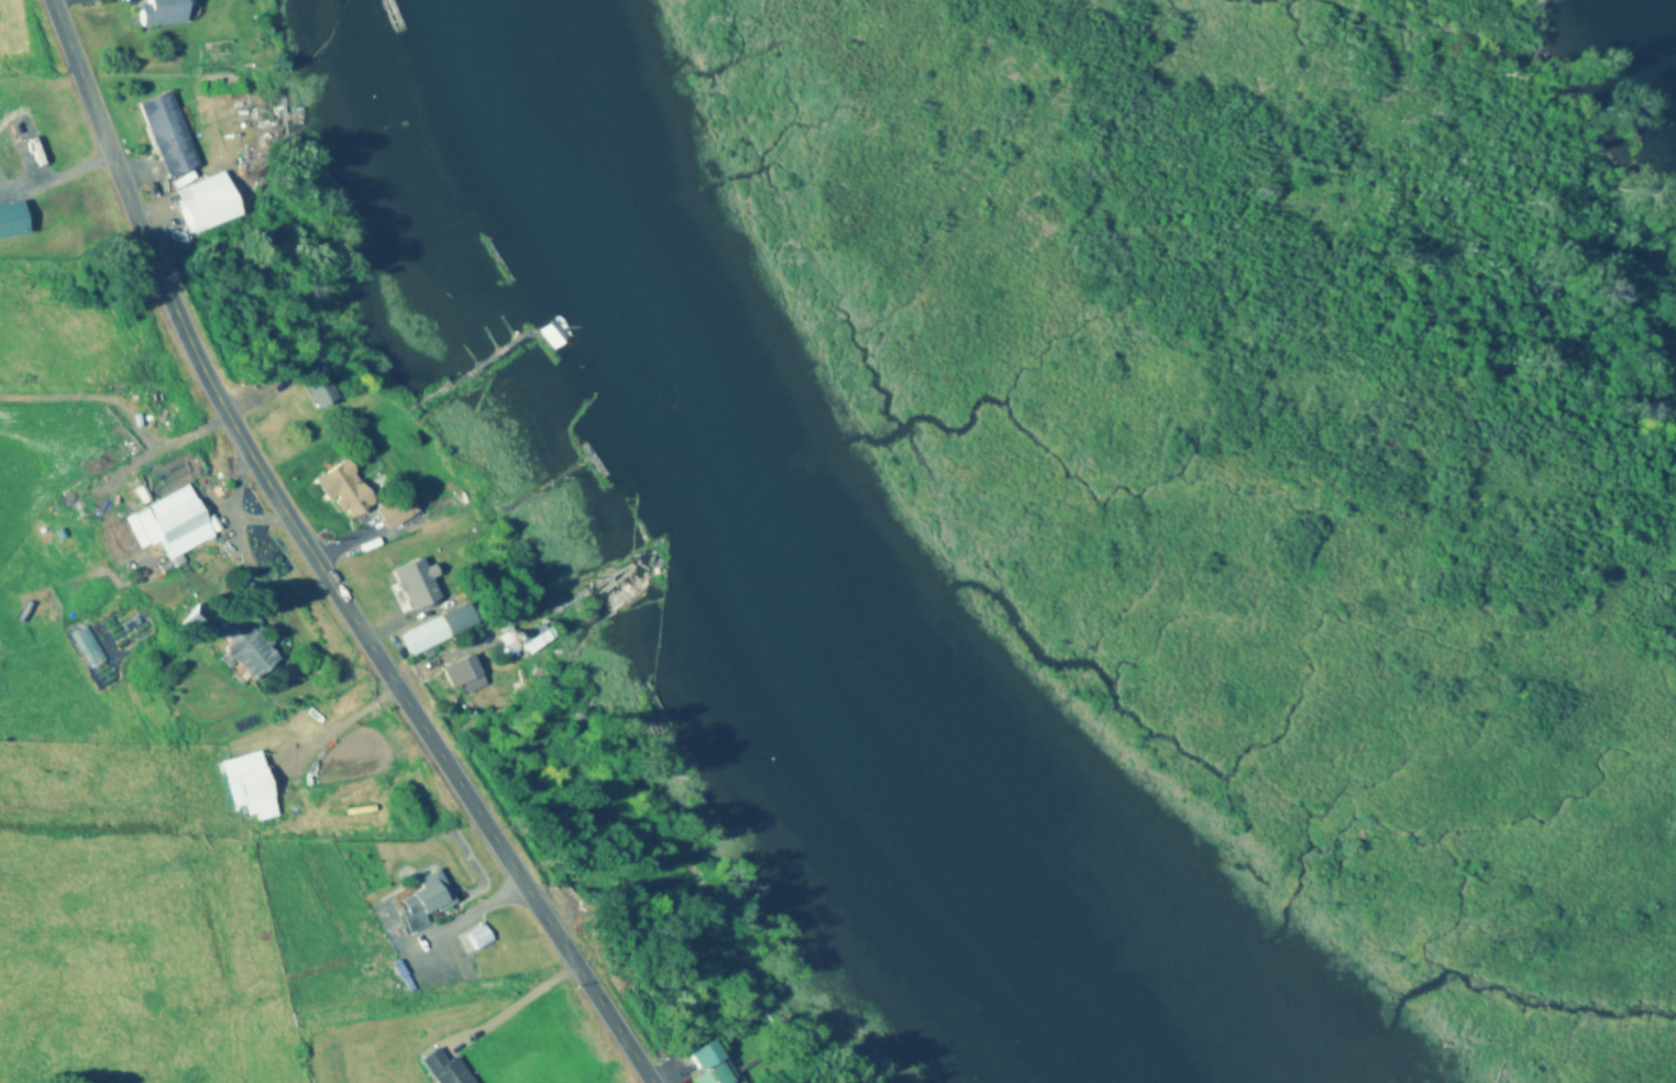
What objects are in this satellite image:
building: (157, 12)
crop: (32, 41)
building: (165, 134)
building: (20, 150)
building: (203, 202)
building: (9, 220)
building: (312, 380)
building: (340, 489)
building: (392, 511)
building: (166, 523)
river: (785, 559)
road: (312, 561)
building: (620, 586)
building: (420, 636)
building: (227, 640)
building: (243, 786)
building: (420, 900)
building: (706, 1064)
building: (440, 1069)

